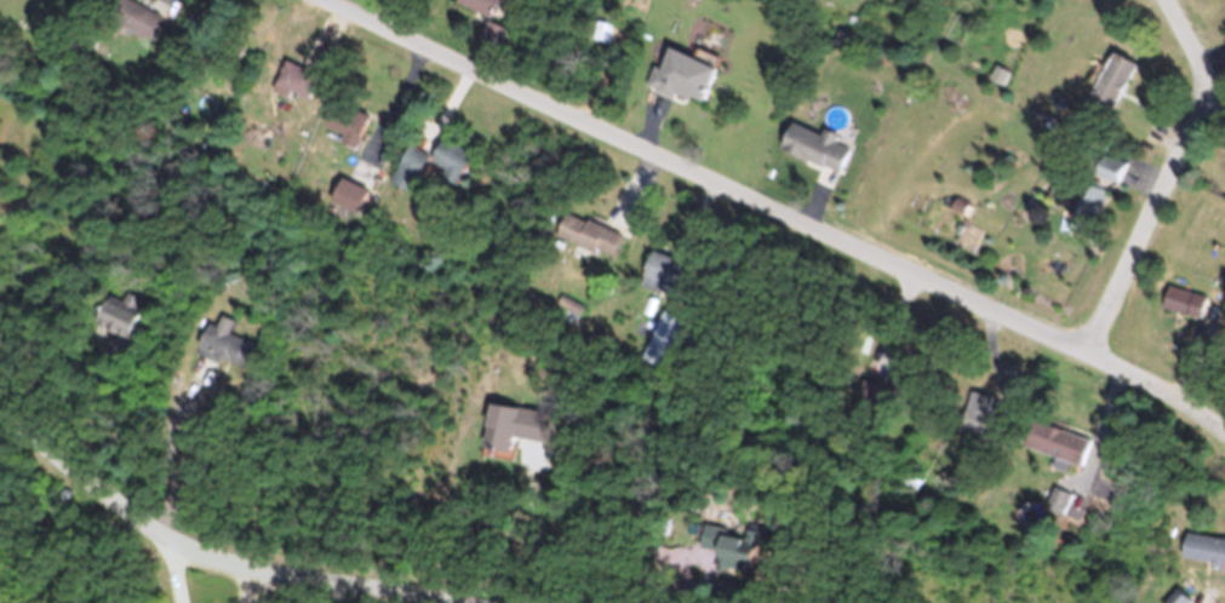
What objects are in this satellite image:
building: (1036, 0)
building: (65, 5)
building: (479, 10)
building: (132, 27)
building: (491, 44)
building: (681, 84)
building: (1112, 90)
building: (344, 133)
building: (813, 156)
building: (447, 170)
building: (408, 172)
building: (1111, 177)
road: (1169, 178)
building: (347, 205)
road: (773, 211)
building: (1092, 213)
building: (586, 243)
building: (657, 281)
building: (1181, 311)
building: (120, 326)
building: (222, 354)
building: (983, 425)
building: (494, 437)
road: (167, 448)
building: (1051, 449)
road: (24, 481)
road: (104, 496)
road: (538, 547)
building: (1202, 557)
road: (305, 578)
road: (254, 587)

